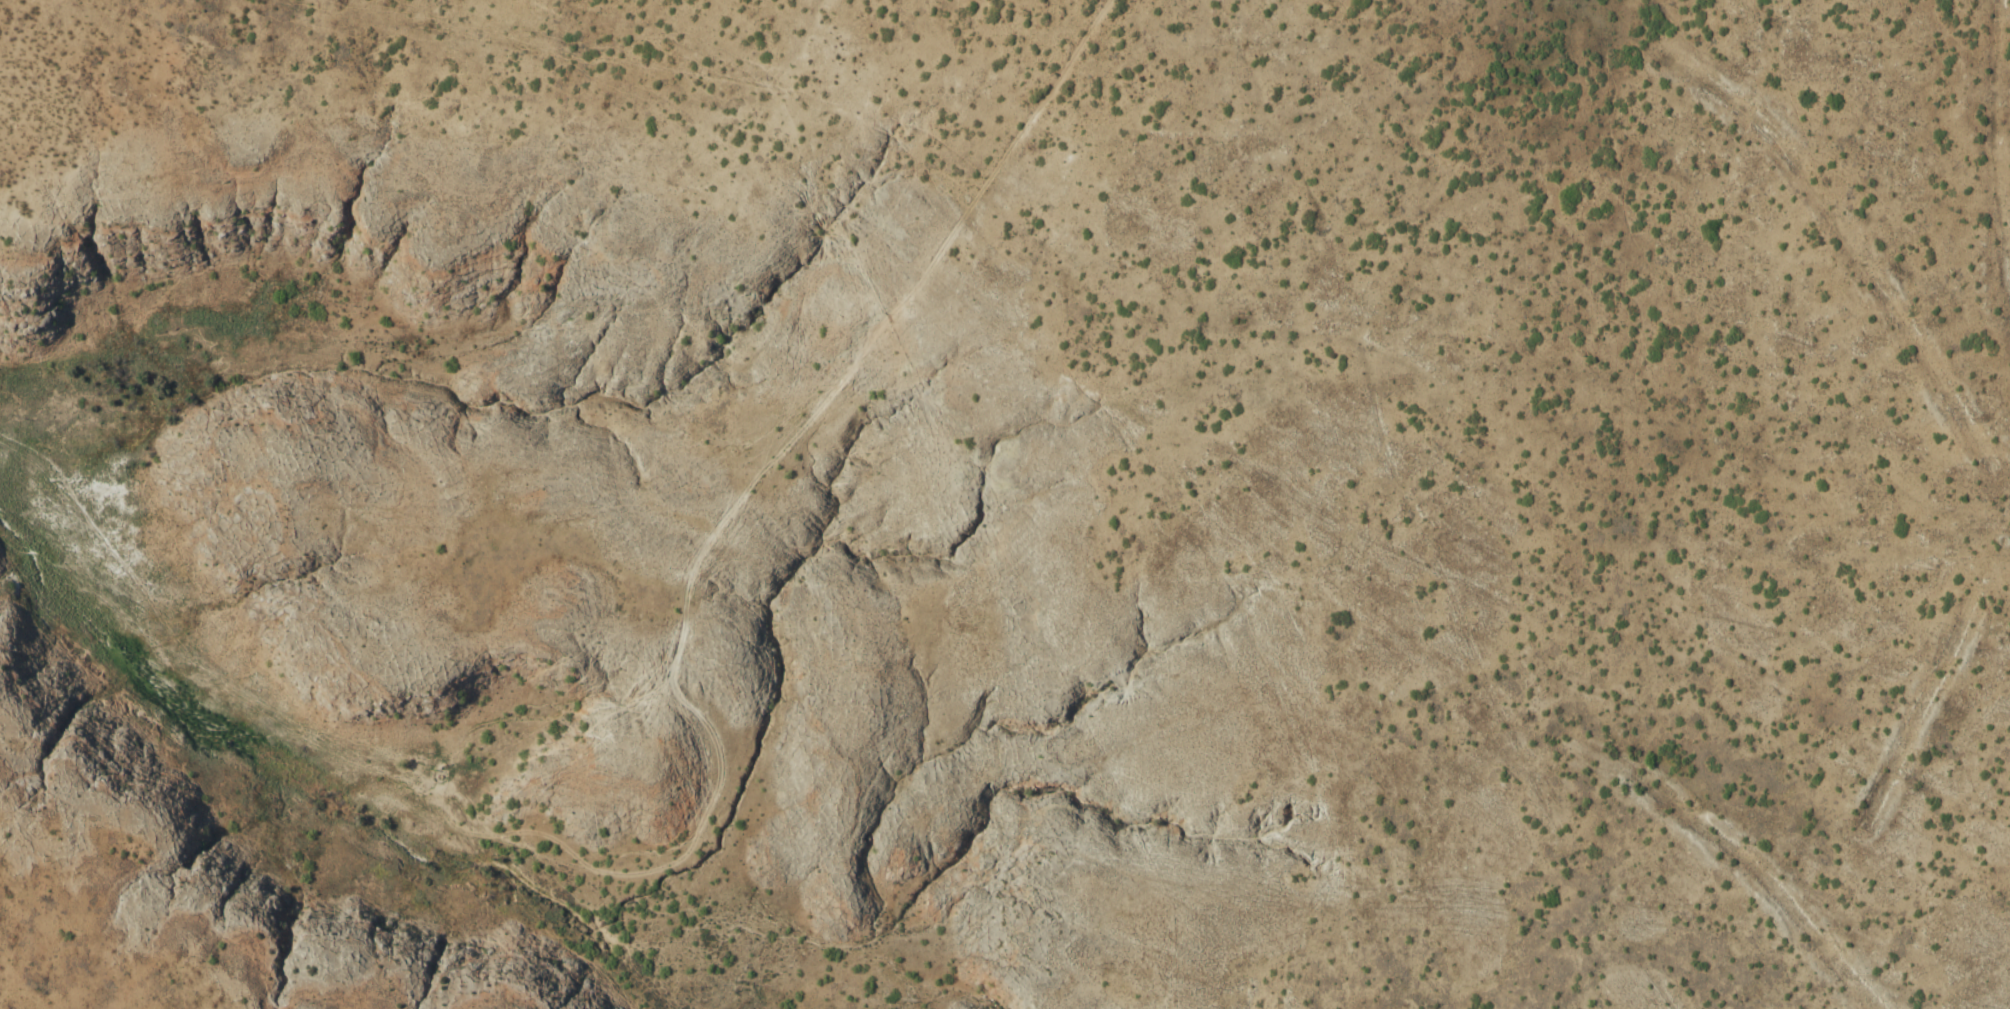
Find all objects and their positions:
road: (658, 712)

